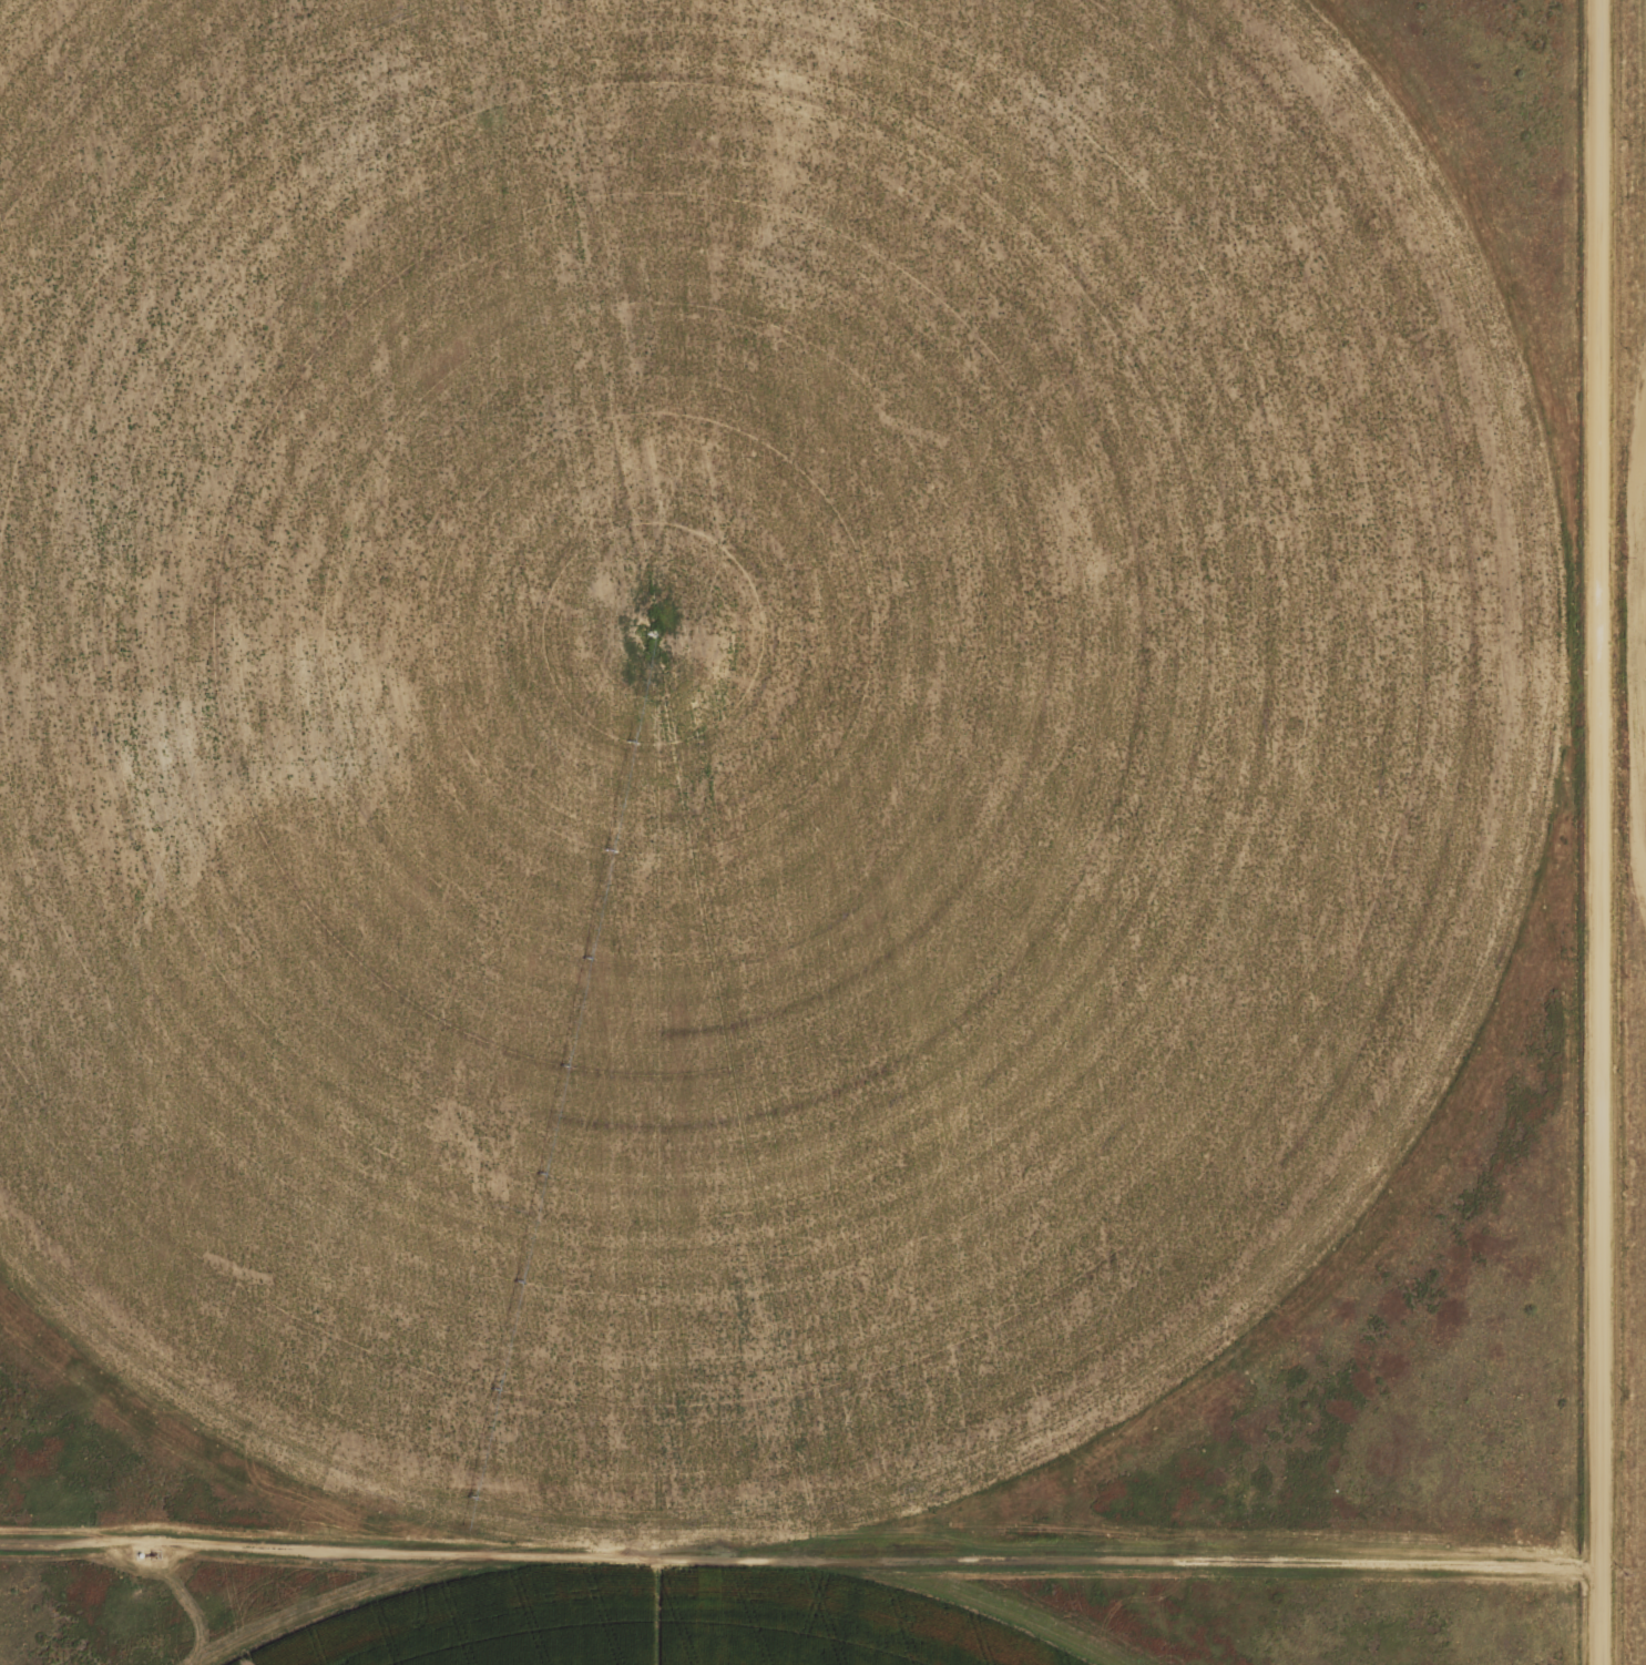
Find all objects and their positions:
road: (1603, 832)

